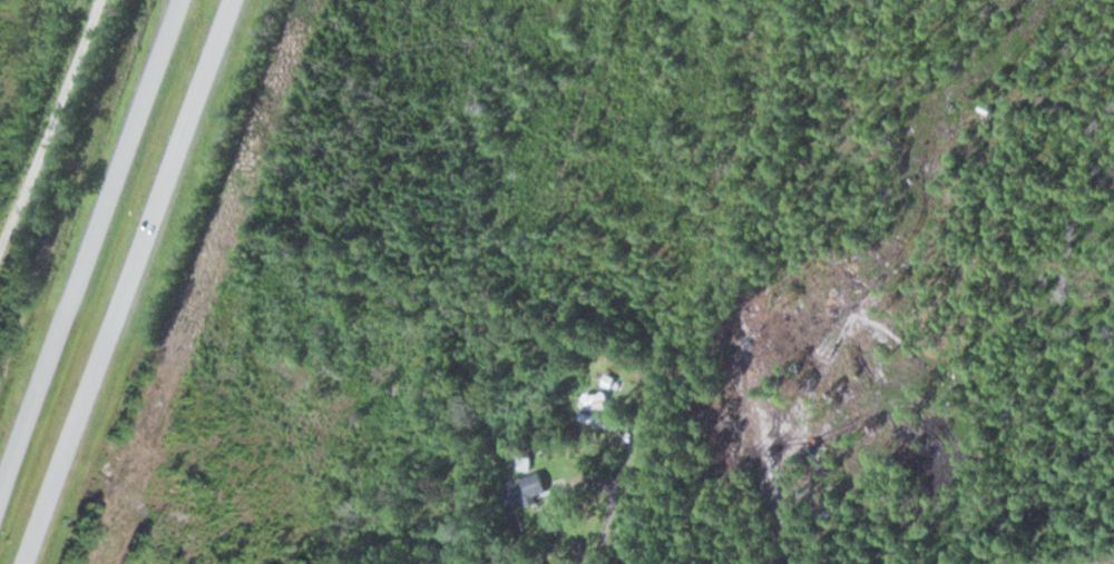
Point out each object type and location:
road: (50, 128)
road: (50, 128)
road: (90, 255)
road: (138, 281)
building: (602, 420)
road: (631, 467)
building: (527, 491)

